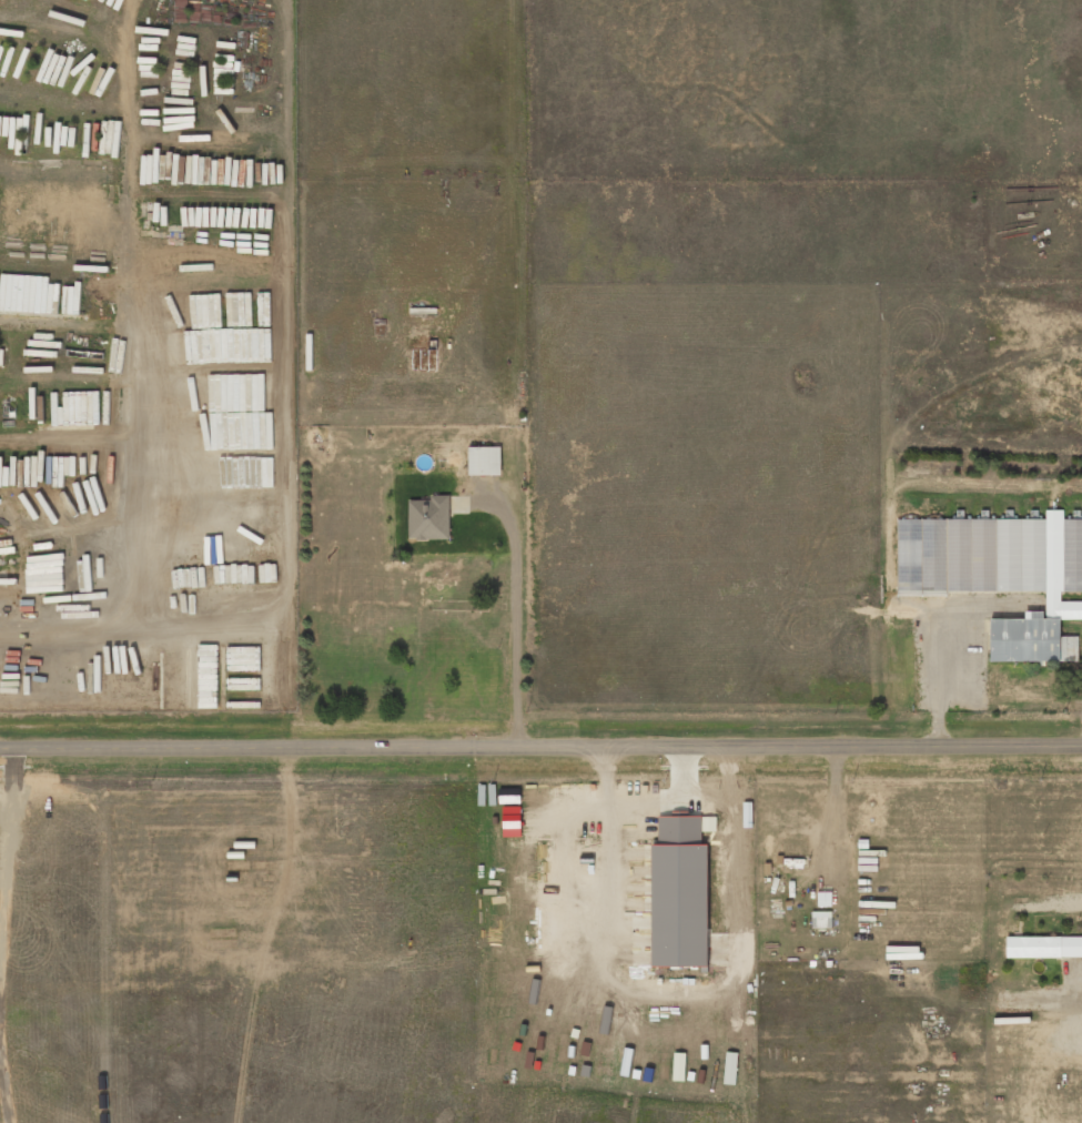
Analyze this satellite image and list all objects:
building: (484, 461)
building: (428, 518)
building: (1001, 574)
road: (540, 747)
building: (821, 919)
building: (1044, 947)

